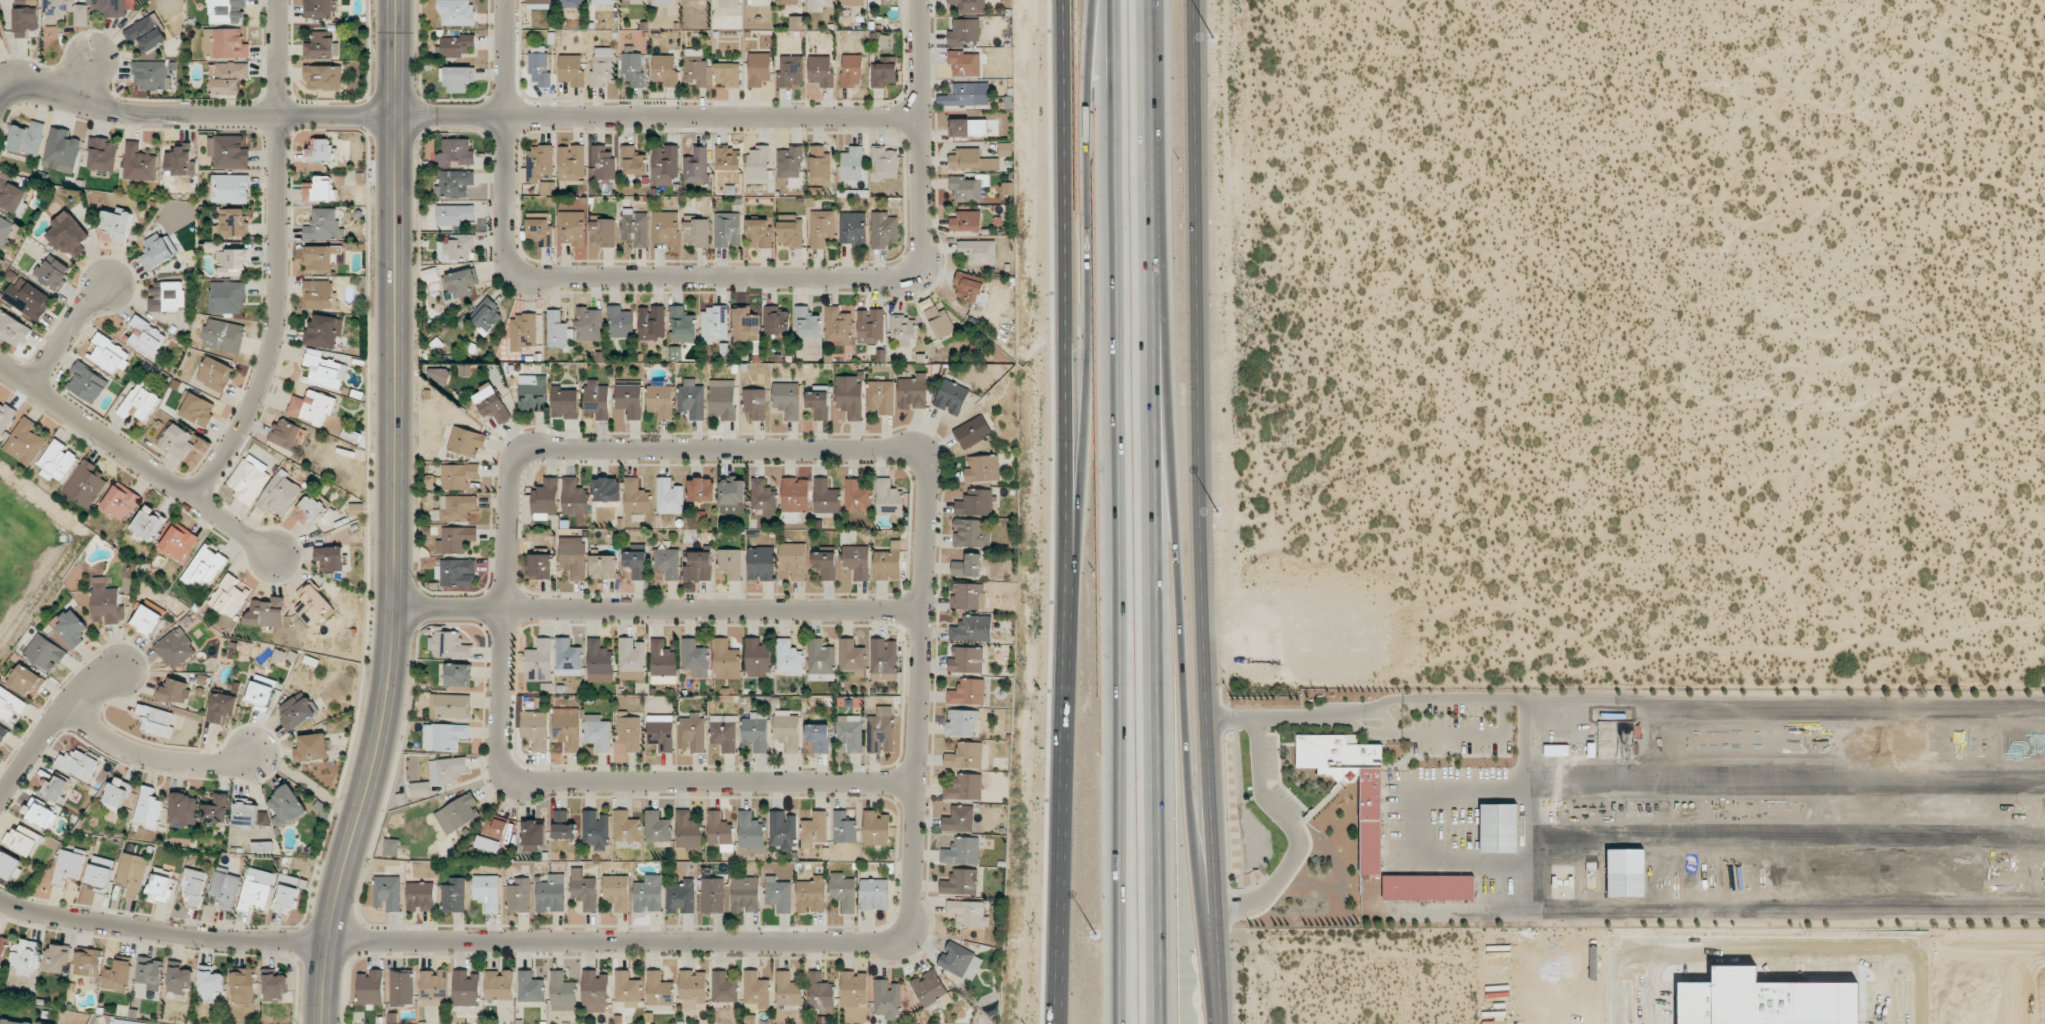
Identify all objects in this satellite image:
building: (686, 0)
building: (632, 1)
building: (602, 2)
building: (663, 2)
building: (788, 2)
building: (852, 2)
building: (571, 3)
building: (728, 3)
building: (540, 4)
building: (818, 5)
building: (970, 6)
building: (113, 7)
building: (319, 8)
building: (65, 11)
building: (226, 11)
building: (456, 12)
building: (25, 20)
building: (796, 22)
building: (964, 31)
building: (147, 34)
building: (0, 38)
building: (225, 43)
building: (456, 45)
building: (321, 46)
road: (506, 58)
building: (964, 63)
building: (540, 65)
building: (633, 66)
building: (602, 67)
building: (695, 68)
building: (665, 69)
building: (758, 69)
building: (571, 70)
building: (790, 70)
building: (852, 70)
building: (820, 71)
building: (883, 71)
building: (151, 74)
building: (728, 74)
building: (229, 77)
building: (323, 77)
building: (458, 78)
road: (1108, 91)
building: (961, 94)
road: (1150, 96)
road: (448, 116)
building: (967, 127)
building: (27, 138)
building: (1004, 149)
building: (61, 150)
building: (228, 151)
building: (319, 151)
building: (456, 153)
building: (102, 154)
building: (726, 158)
building: (965, 158)
building: (180, 161)
building: (571, 161)
building: (632, 161)
building: (603, 162)
building: (757, 162)
building: (788, 162)
building: (885, 162)
building: (138, 163)
building: (539, 163)
building: (664, 164)
building: (852, 164)
building: (696, 165)
building: (819, 165)
building: (454, 183)
building: (230, 188)
building: (319, 189)
building: (965, 189)
building: (11, 195)
building: (454, 214)
building: (965, 221)
building: (233, 222)
building: (117, 224)
building: (324, 225)
building: (571, 227)
building: (635, 227)
building: (822, 227)
building: (665, 228)
building: (852, 228)
building: (883, 229)
building: (727, 230)
building: (789, 230)
building: (5, 231)
building: (539, 232)
building: (602, 232)
building: (760, 232)
building: (696, 233)
building: (69, 235)
building: (456, 248)
building: (157, 251)
building: (978, 251)
building: (321, 256)
road: (275, 260)
building: (232, 262)
building: (53, 272)
road: (775, 277)
building: (459, 282)
building: (968, 286)
building: (320, 294)
building: (167, 296)
building: (227, 297)
building: (28, 298)
road: (1065, 306)
road: (1089, 306)
building: (485, 315)
building: (936, 319)
building: (775, 320)
building: (620, 322)
building: (652, 322)
building: (806, 323)
building: (589, 324)
building: (713, 324)
building: (838, 324)
building: (682, 325)
building: (745, 325)
building: (870, 325)
building: (12, 328)
building: (903, 330)
building: (323, 331)
building: (522, 331)
building: (558, 331)
building: (224, 336)
building: (146, 337)
road: (62, 338)
building: (108, 353)
building: (675, 353)
building: (323, 370)
building: (215, 374)
building: (440, 376)
building: (87, 382)
building: (912, 392)
building: (532, 393)
building: (849, 396)
building: (881, 396)
building: (951, 397)
building: (722, 398)
building: (596, 399)
building: (691, 399)
building: (787, 399)
building: (629, 400)
building: (660, 400)
building: (140, 401)
building: (755, 402)
building: (492, 403)
building: (565, 403)
building: (818, 404)
building: (312, 407)
building: (197, 409)
building: (5, 416)
building: (973, 431)
building: (285, 433)
building: (25, 441)
building: (178, 441)
building: (466, 441)
building: (58, 460)
road: (135, 462)
building: (982, 468)
building: (459, 475)
building: (249, 479)
building: (86, 483)
building: (701, 490)
building: (607, 492)
building: (280, 494)
building: (795, 494)
building: (732, 495)
building: (856, 495)
building: (636, 496)
building: (669, 496)
building: (762, 496)
building: (574, 497)
building: (825, 497)
building: (888, 498)
building: (120, 501)
building: (975, 502)
road: (1200, 502)
building: (356, 509)
building: (457, 509)
building: (310, 510)
road: (397, 515)
building: (149, 523)
building: (970, 533)
building: (455, 539)
building: (178, 543)
building: (573, 556)
building: (333, 558)
building: (793, 560)
building: (857, 561)
building: (667, 562)
building: (636, 563)
building: (730, 563)
building: (760, 563)
building: (825, 564)
building: (888, 564)
building: (540, 566)
building: (603, 566)
building: (699, 566)
building: (967, 566)
building: (205, 567)
building: (457, 572)
building: (228, 596)
building: (968, 596)
road: (1183, 598)
building: (106, 601)
road: (1110, 603)
building: (313, 605)
road: (1154, 608)
road: (658, 610)
building: (266, 612)
building: (148, 620)
building: (71, 629)
building: (972, 629)
building: (449, 645)
building: (175, 648)
building: (46, 652)
building: (884, 655)
building: (758, 657)
building: (789, 657)
building: (852, 657)
building: (568, 658)
building: (694, 658)
building: (631, 659)
building: (726, 660)
building: (820, 660)
building: (966, 660)
building: (539, 661)
building: (598, 661)
building: (662, 663)
building: (458, 675)
building: (27, 681)
building: (262, 691)
building: (967, 692)
road: (1437, 699)
building: (11, 705)
building: (222, 706)
building: (450, 706)
building: (298, 710)
road: (1295, 716)
building: (156, 720)
road: (50, 723)
building: (961, 723)
building: (566, 727)
building: (787, 730)
building: (661, 731)
building: (755, 731)
building: (881, 731)
building: (597, 732)
building: (629, 732)
building: (692, 732)
building: (724, 732)
building: (850, 732)
building: (3, 733)
road: (1454, 734)
building: (444, 735)
building: (818, 737)
building: (312, 747)
building: (1606, 749)
road: (153, 756)
building: (965, 756)
building: (78, 764)
building: (447, 770)
road: (710, 781)
road: (915, 786)
building: (965, 787)
building: (55, 788)
building: (420, 789)
building: (118, 793)
building: (286, 806)
building: (148, 808)
building: (183, 809)
building: (216, 809)
building: (40, 813)
building: (458, 813)
building: (246, 814)
road: (1063, 817)
building: (959, 819)
building: (563, 825)
building: (495, 827)
building: (626, 827)
building: (657, 827)
building: (843, 828)
building: (875, 828)
building: (1498, 828)
building: (814, 829)
road: (1289, 829)
building: (1369, 829)
building: (595, 830)
building: (782, 830)
building: (688, 831)
building: (720, 831)
building: (751, 832)
building: (533, 834)
building: (23, 840)
building: (489, 844)
building: (391, 847)
building: (961, 851)
building: (68, 865)
building: (9, 866)
building: (100, 871)
building: (133, 873)
building: (1626, 873)
building: (960, 882)
building: (193, 886)
building: (160, 887)
building: (1428, 887)
building: (225, 888)
building: (583, 889)
building: (617, 891)
building: (843, 891)
building: (486, 892)
building: (286, 893)
building: (387, 893)
building: (254, 894)
building: (551, 894)
building: (648, 894)
building: (745, 894)
building: (778, 894)
building: (873, 894)
building: (453, 895)
building: (518, 895)
building: (712, 895)
building: (811, 895)
building: (421, 896)
building: (680, 896)
building: (968, 913)
building: (3, 946)
building: (25, 958)
building: (55, 959)
building: (960, 961)
building: (88, 962)
building: (150, 973)
building: (118, 976)
building: (1789, 976)
building: (179, 981)
building: (211, 985)
building: (498, 985)
building: (244, 986)
building: (275, 987)
building: (370, 987)
building: (434, 987)
building: (530, 987)
building: (723, 987)
building: (928, 987)
building: (401, 988)
building: (466, 988)
building: (693, 988)
building: (627, 989)
building: (659, 989)
building: (756, 989)
building: (788, 989)
building: (854, 989)
building: (595, 991)
building: (561, 992)
building: (820, 993)
building: (886, 997)
road: (1220, 1014)
building: (15, 1022)

